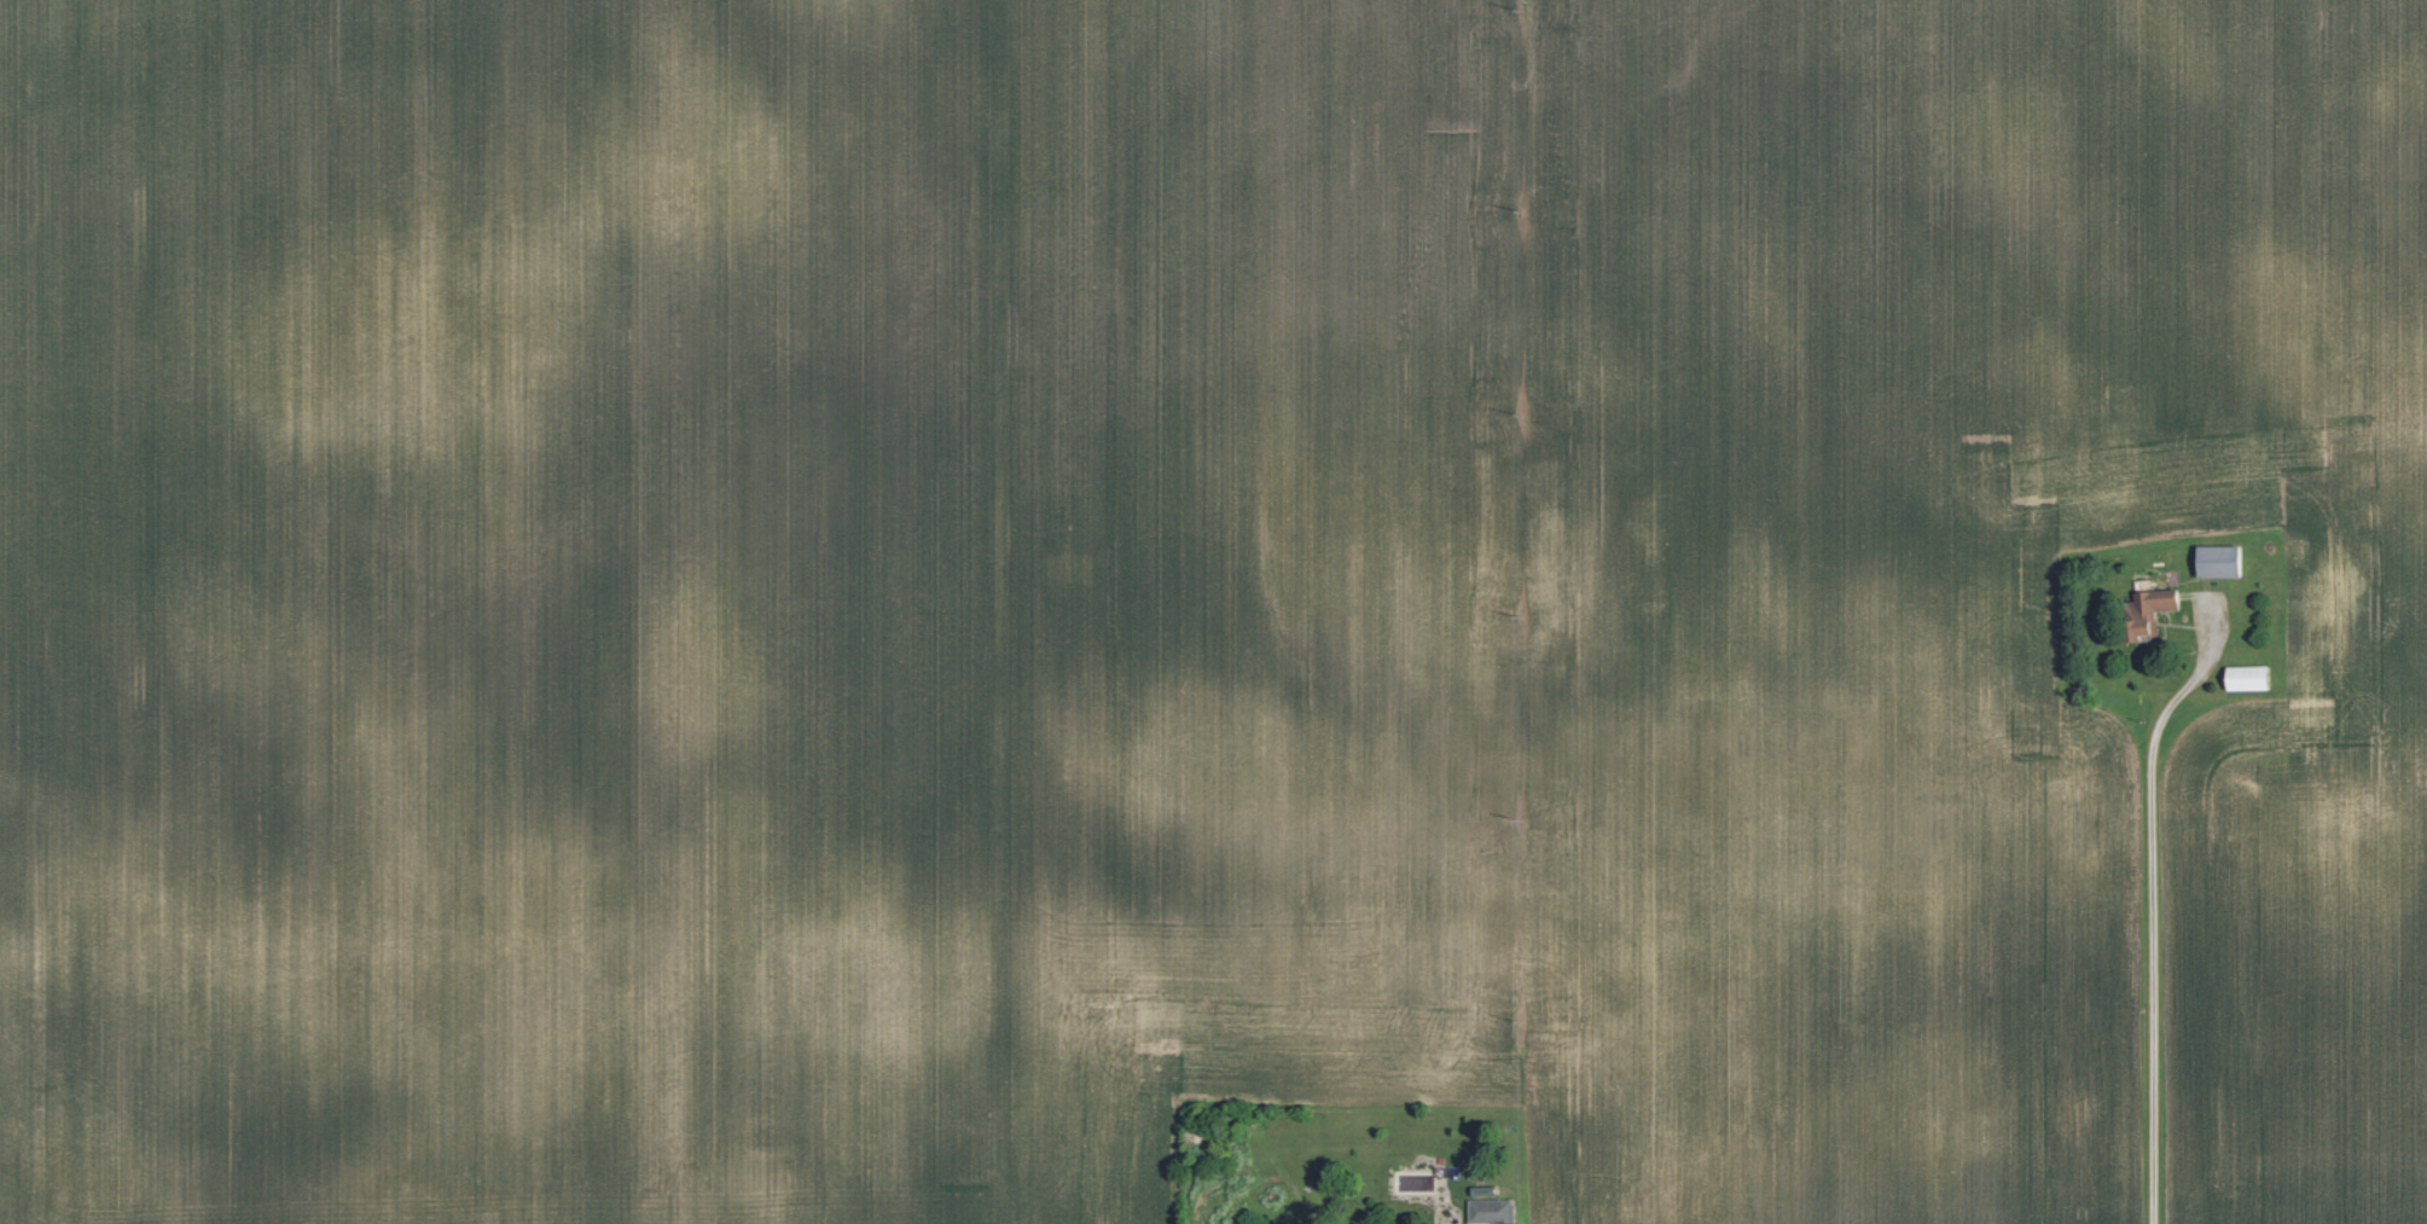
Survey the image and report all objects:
building: (2219, 561)
building: (2160, 602)
building: (2144, 633)
building: (2248, 677)
road: (2153, 909)

